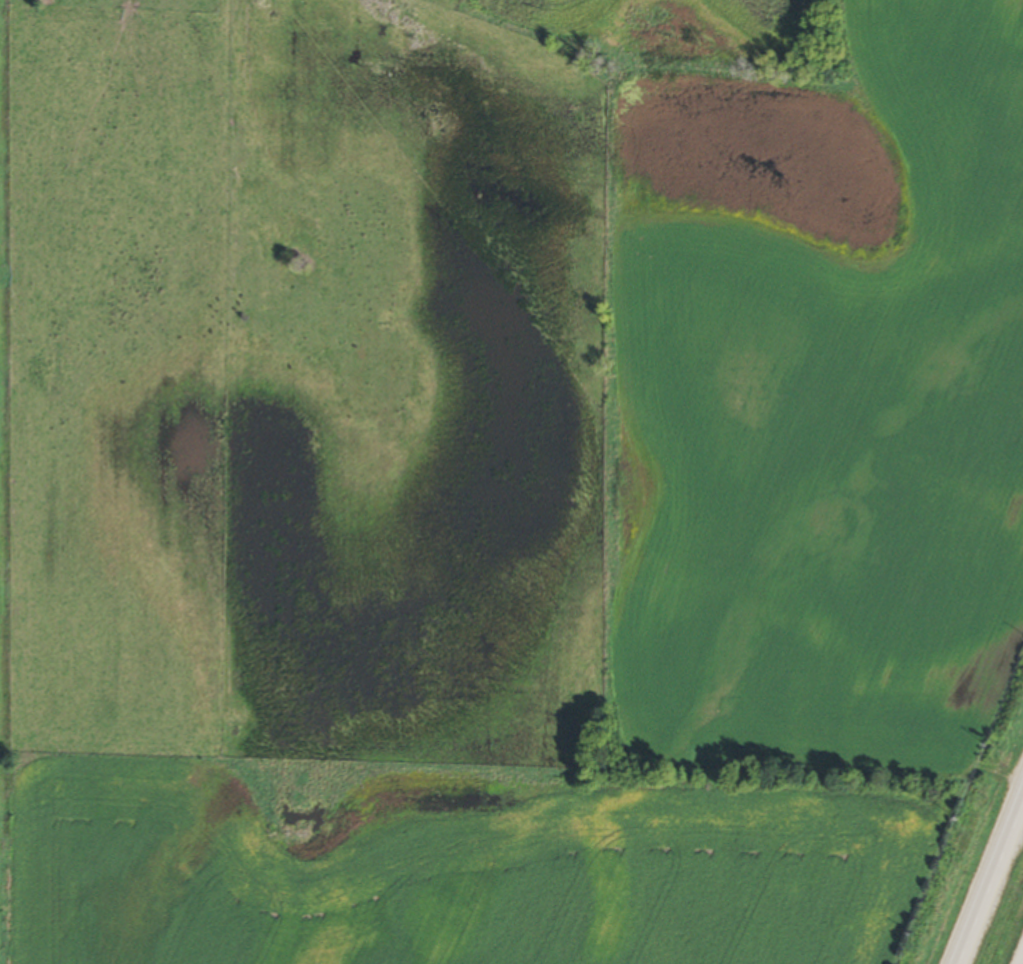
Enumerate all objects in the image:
road: (985, 869)

